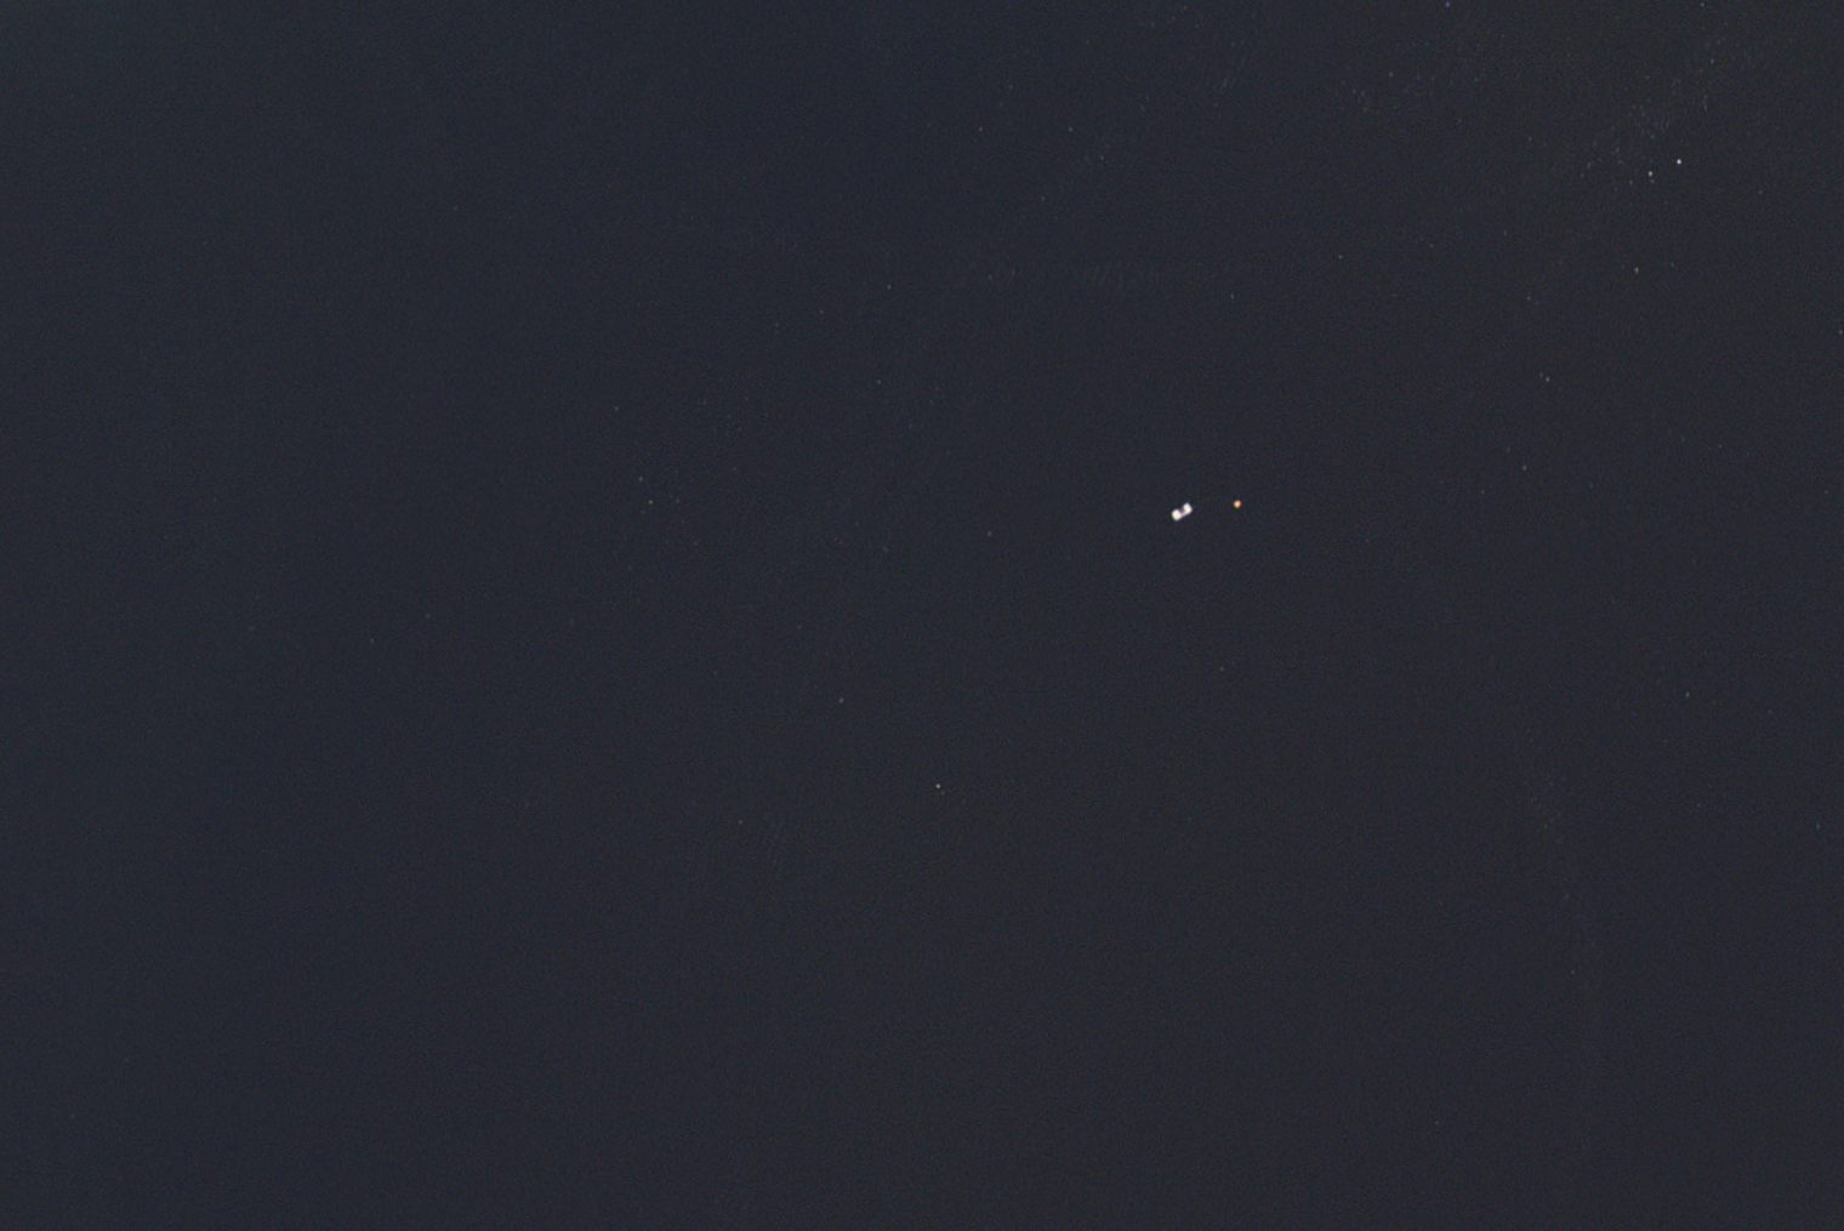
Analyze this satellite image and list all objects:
river: (1628, 855)

